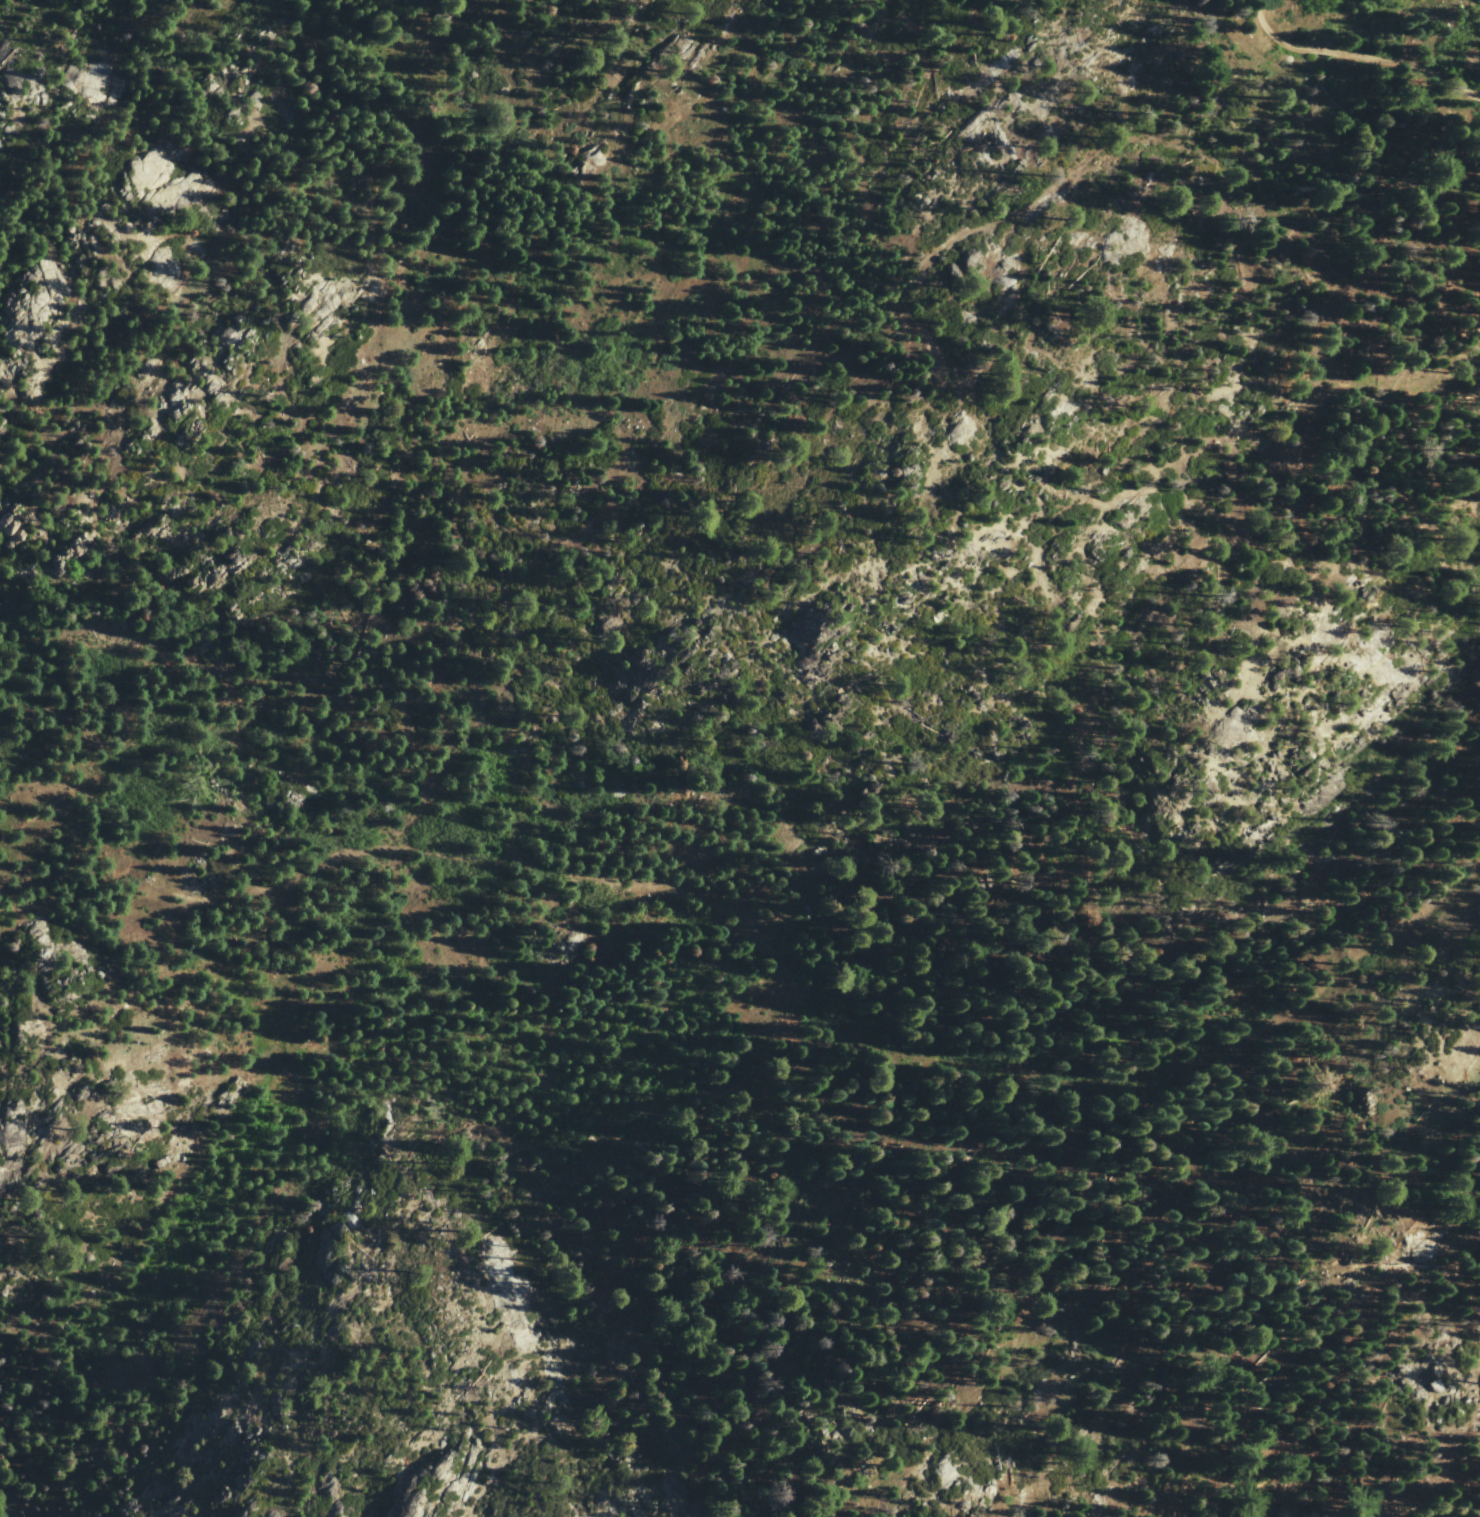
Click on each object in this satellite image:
road: (1356, 60)

